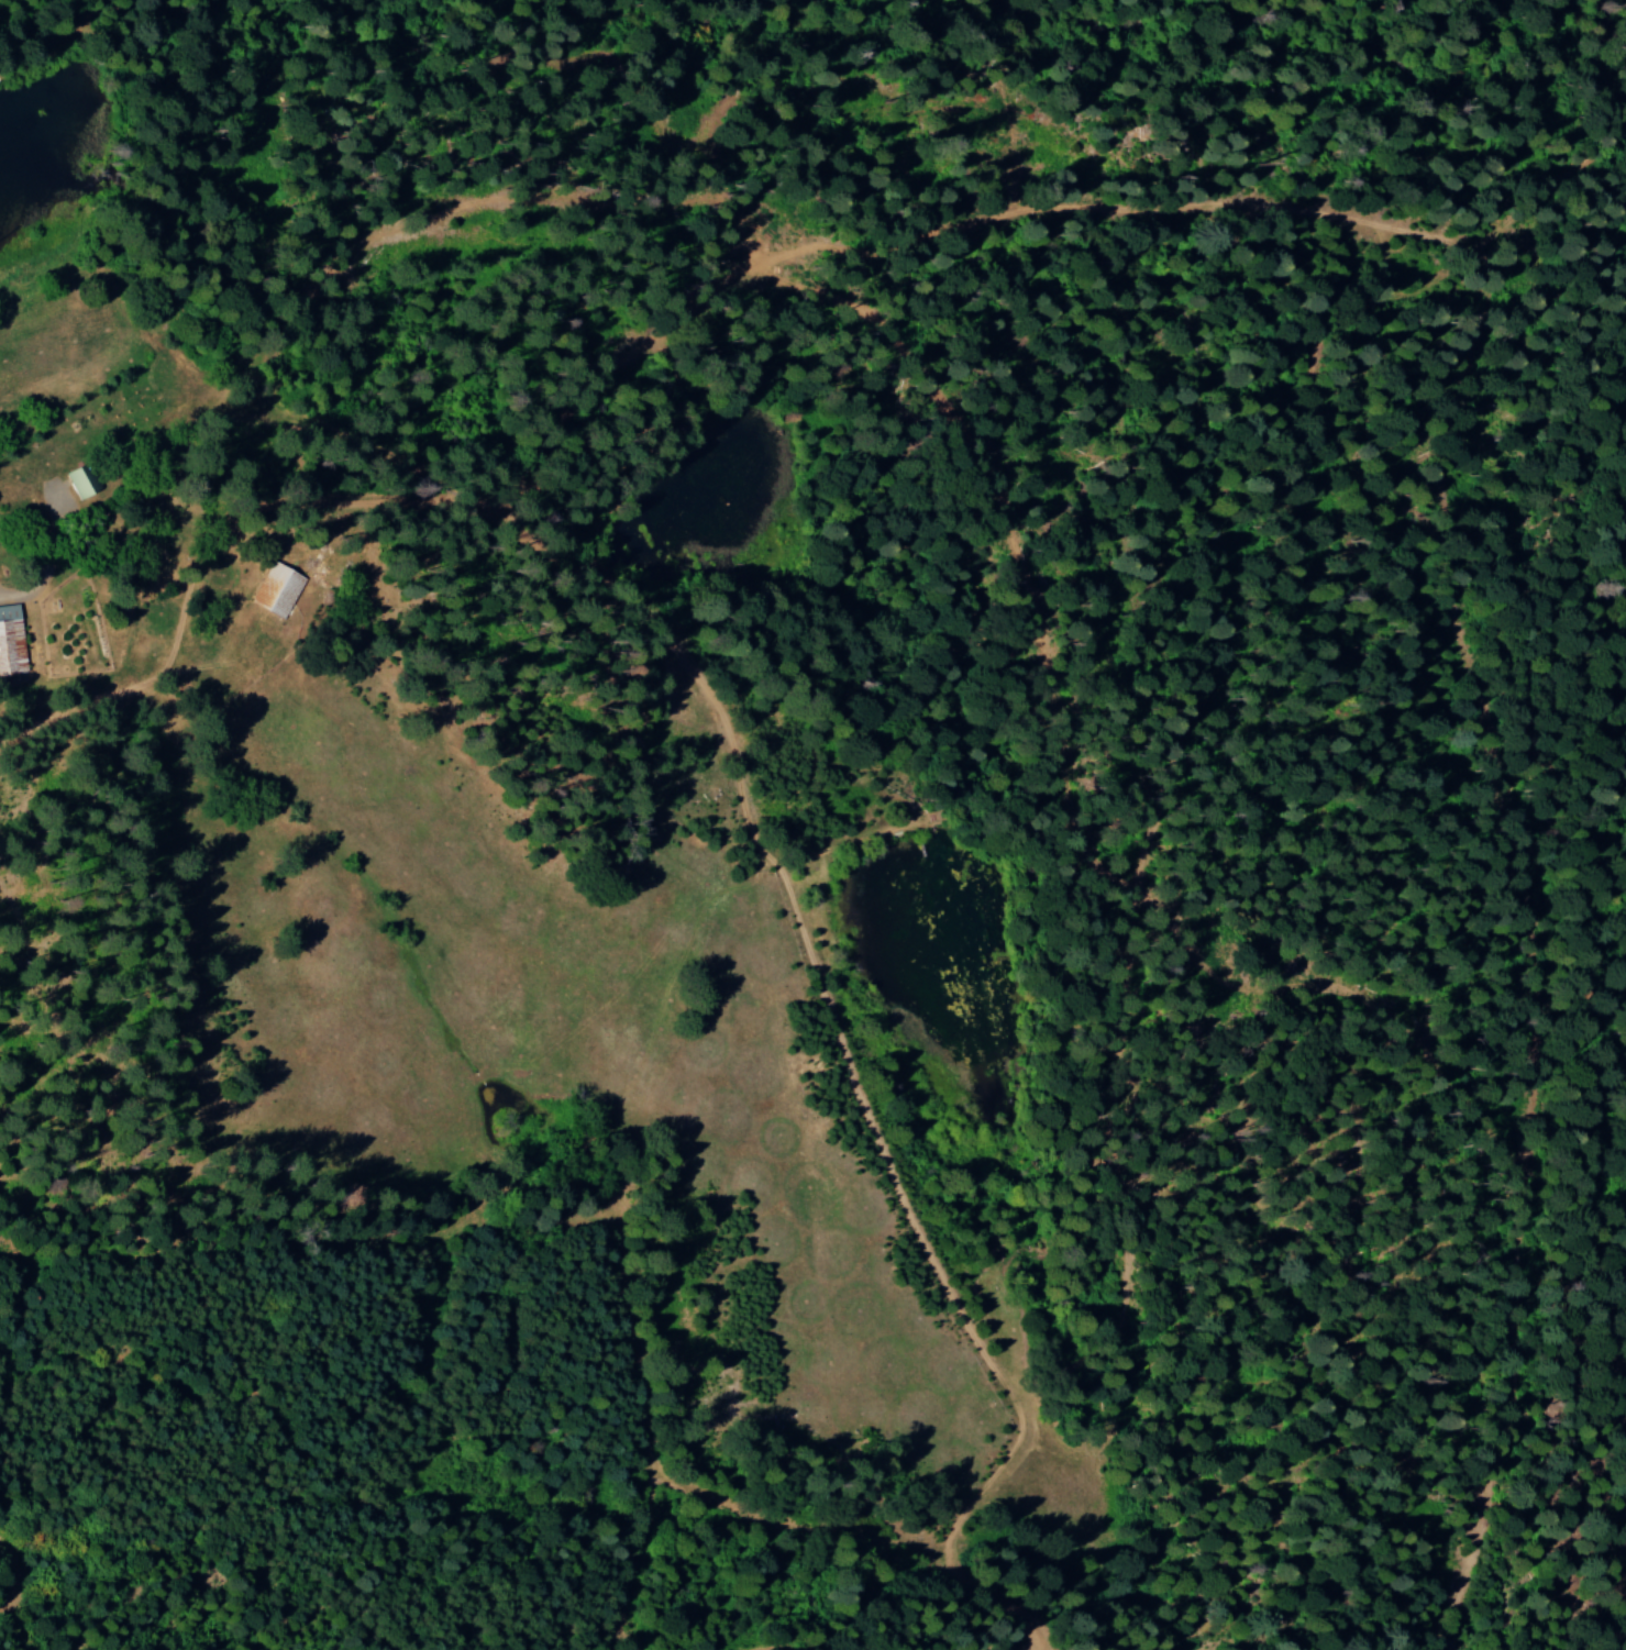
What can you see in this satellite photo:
building: (81, 479)
building: (277, 589)
building: (11, 641)
road: (775, 971)

